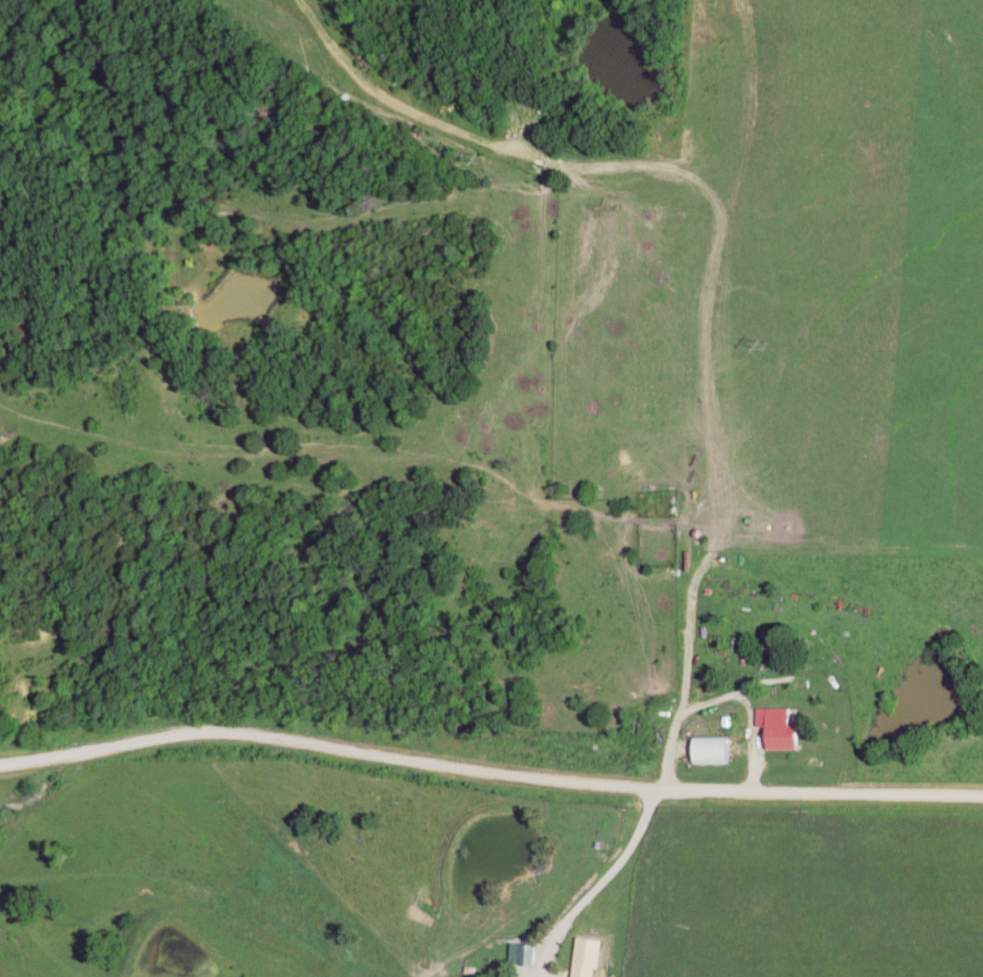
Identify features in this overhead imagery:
road: (490, 149)
power tower: (475, 163)
power tower: (758, 344)
road: (695, 394)
building: (662, 495)
building: (777, 729)
building: (714, 751)
road: (487, 783)
road: (600, 885)
building: (526, 956)
building: (582, 963)

